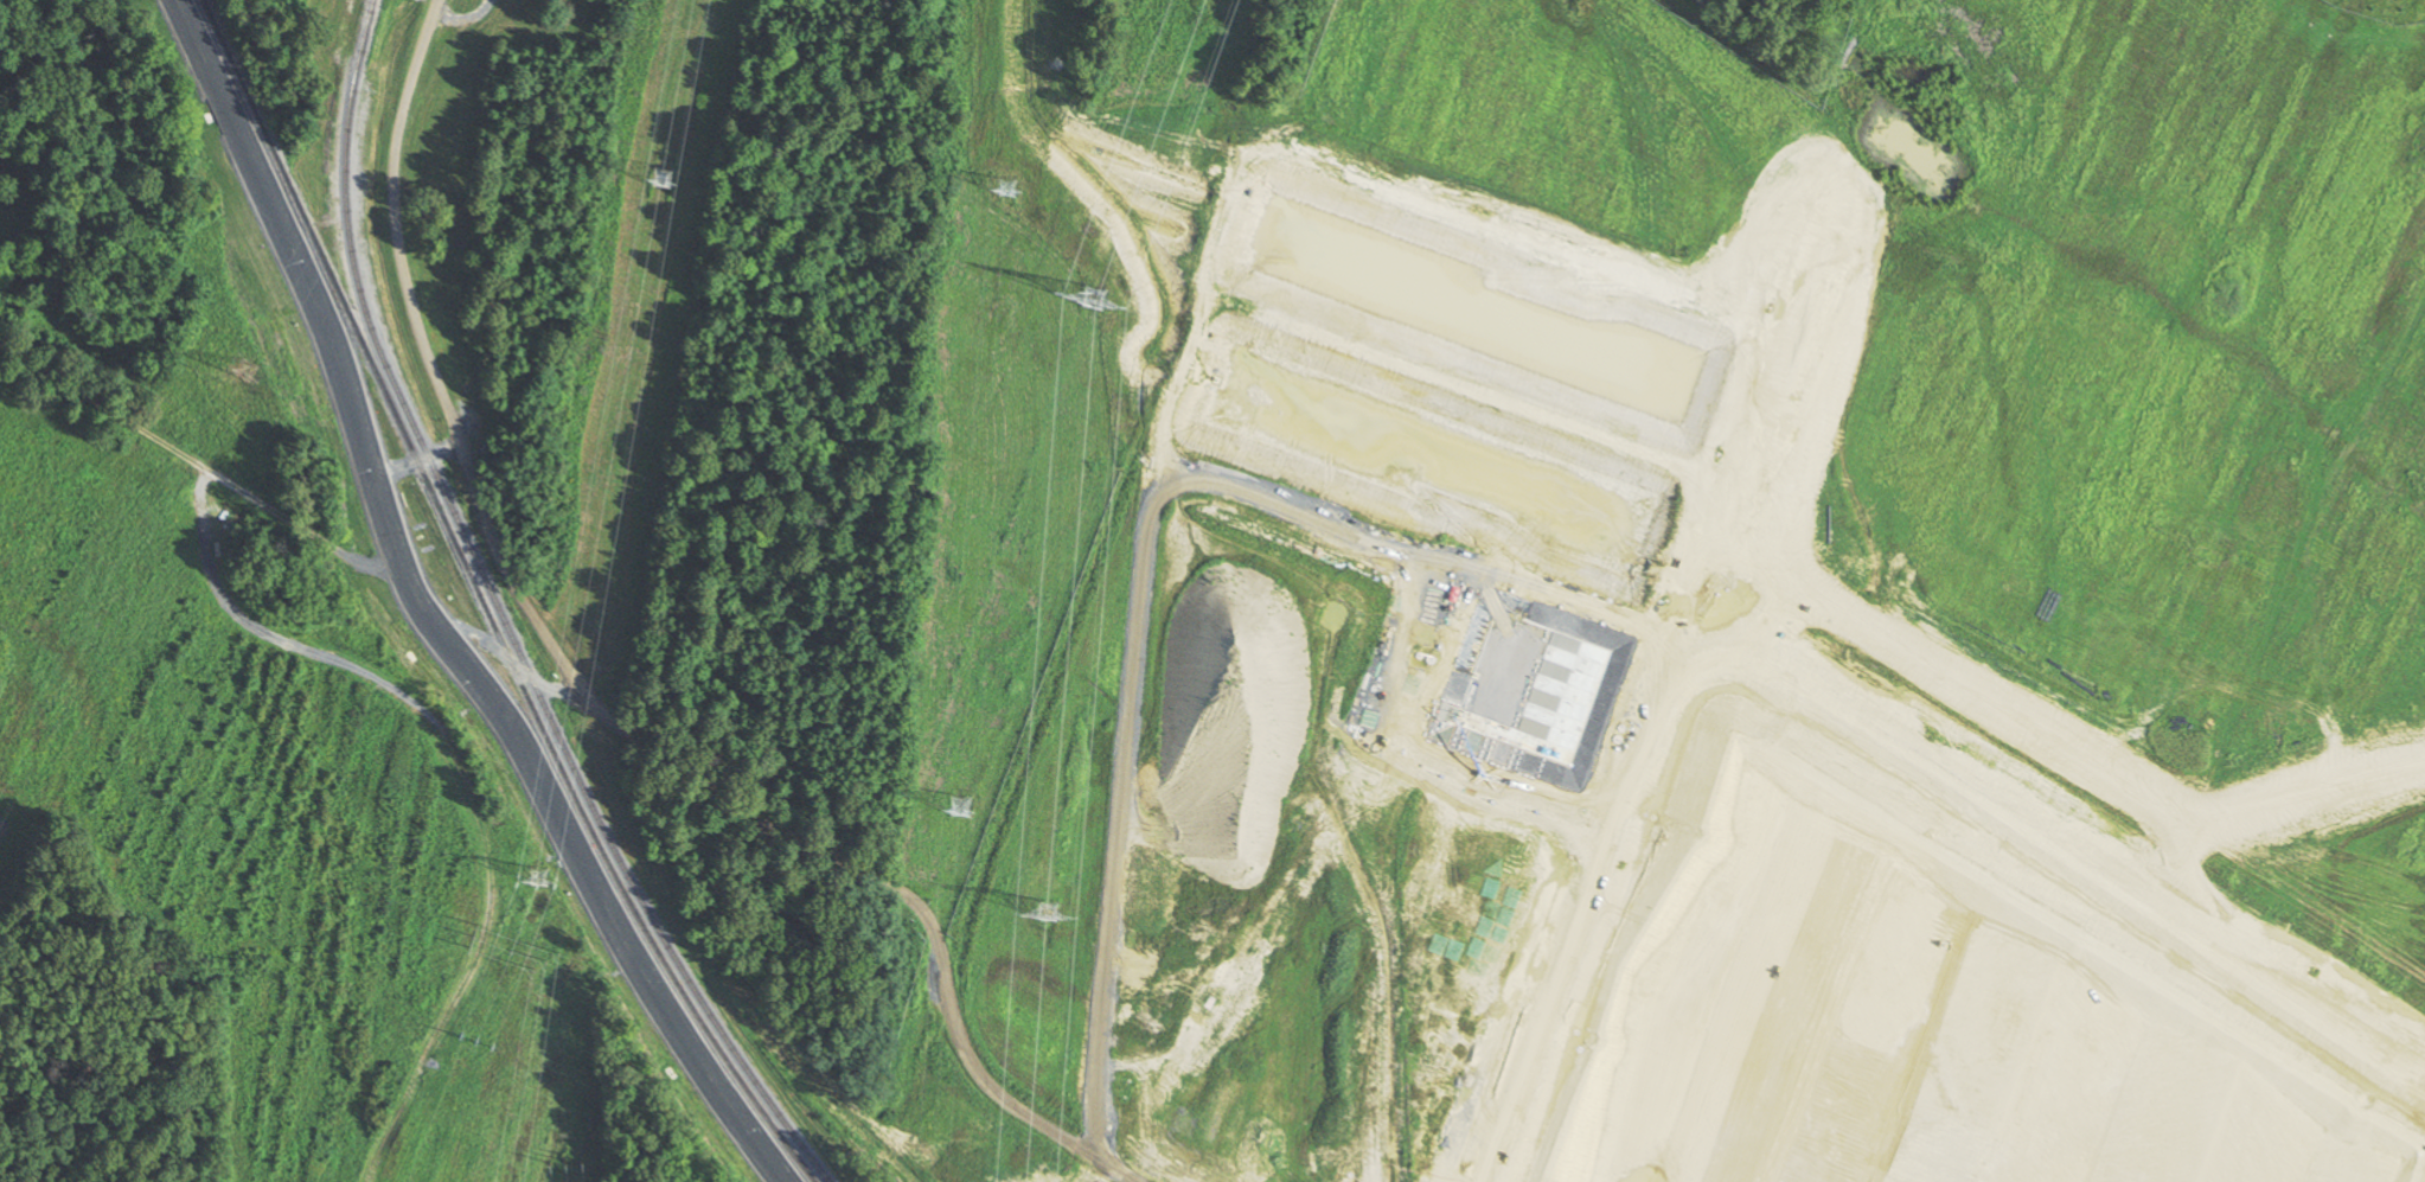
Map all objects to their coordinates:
power tower: (661, 177)
power tower: (1005, 187)
power tower: (1094, 298)
power tower: (245, 371)
railway: (482, 606)
railway: (501, 618)
road: (618, 723)
power tower: (959, 807)
power tower: (537, 878)
power tower: (1048, 913)
power tower: (476, 935)
power tower: (544, 961)

